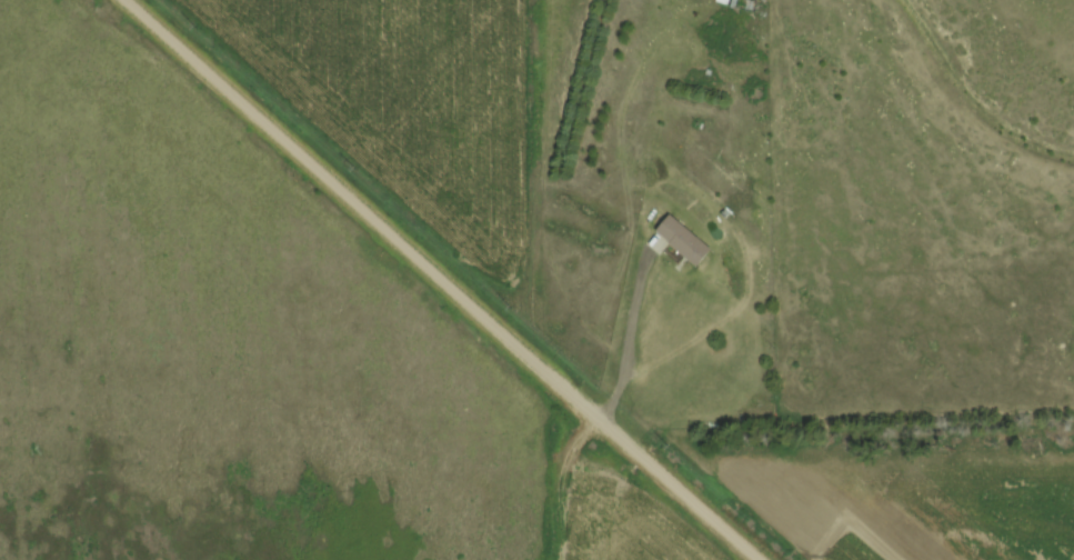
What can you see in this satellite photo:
building: (714, 2)
road: (631, 207)
building: (674, 240)
road: (445, 279)

